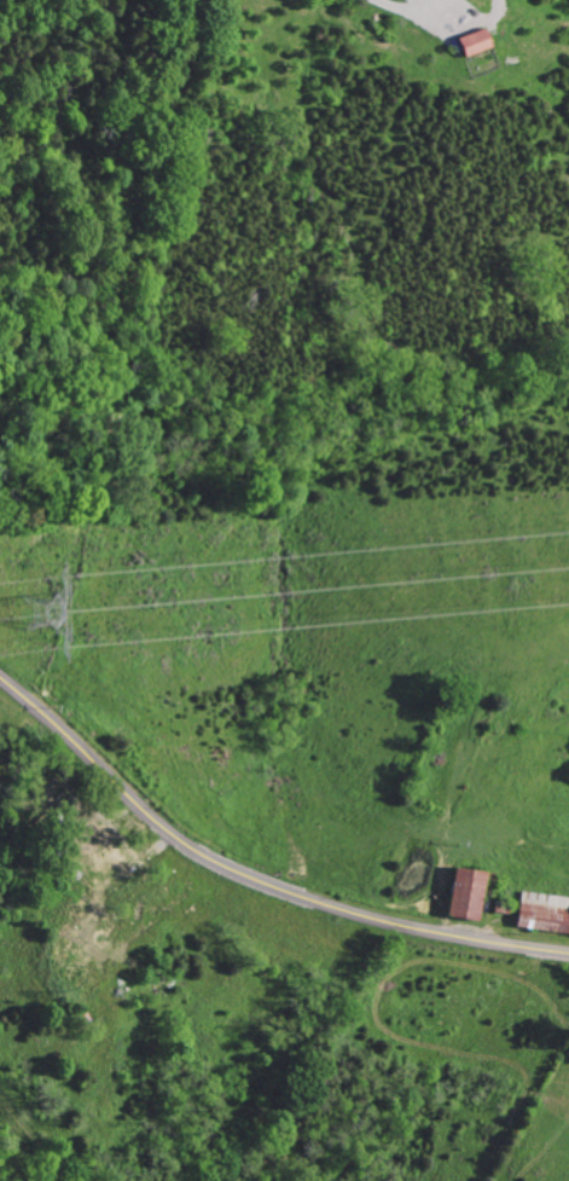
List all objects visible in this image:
road: (420, 0)
building: (471, 44)
power tower: (58, 623)
building: (103, 847)
building: (92, 859)
road: (254, 879)
building: (463, 893)
building: (542, 911)

